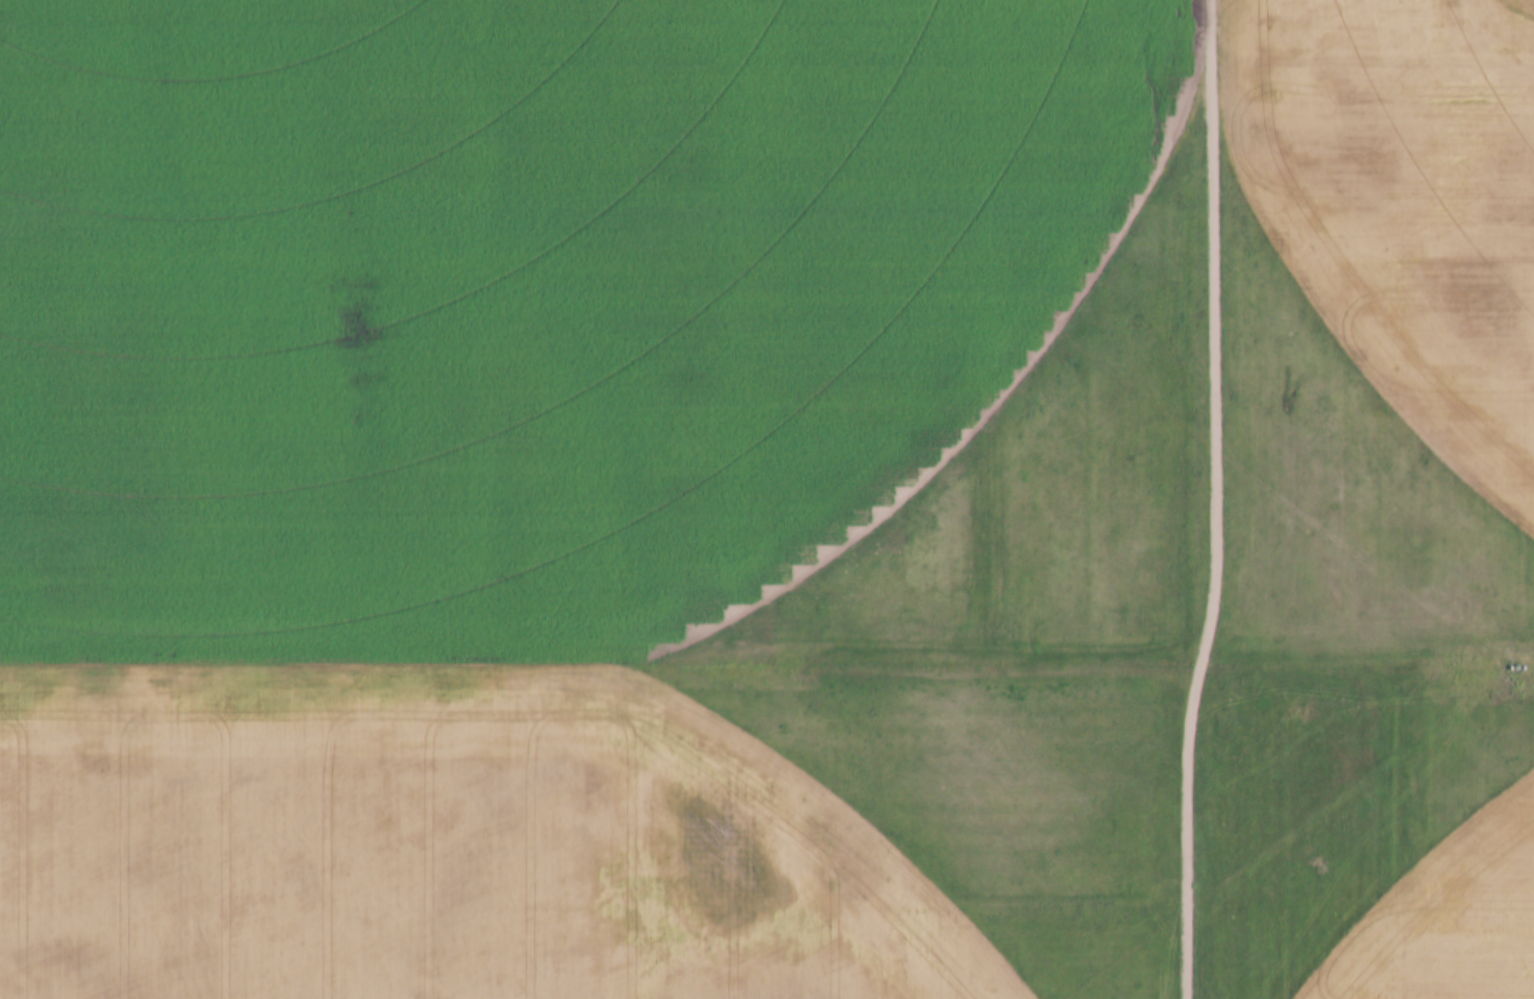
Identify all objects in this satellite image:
road: (1211, 500)

